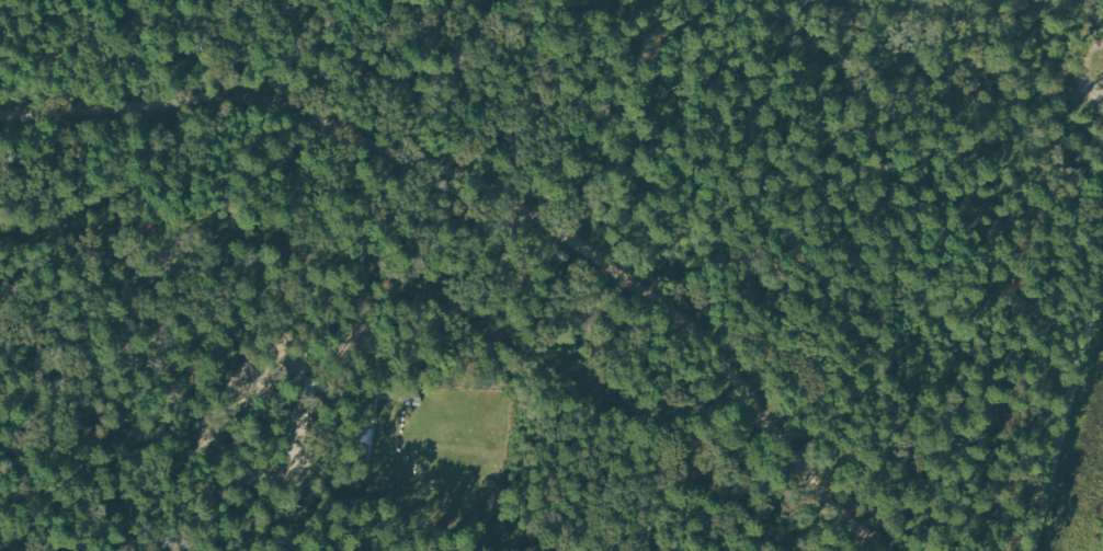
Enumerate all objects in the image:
road: (500, 206)
road: (1069, 414)

